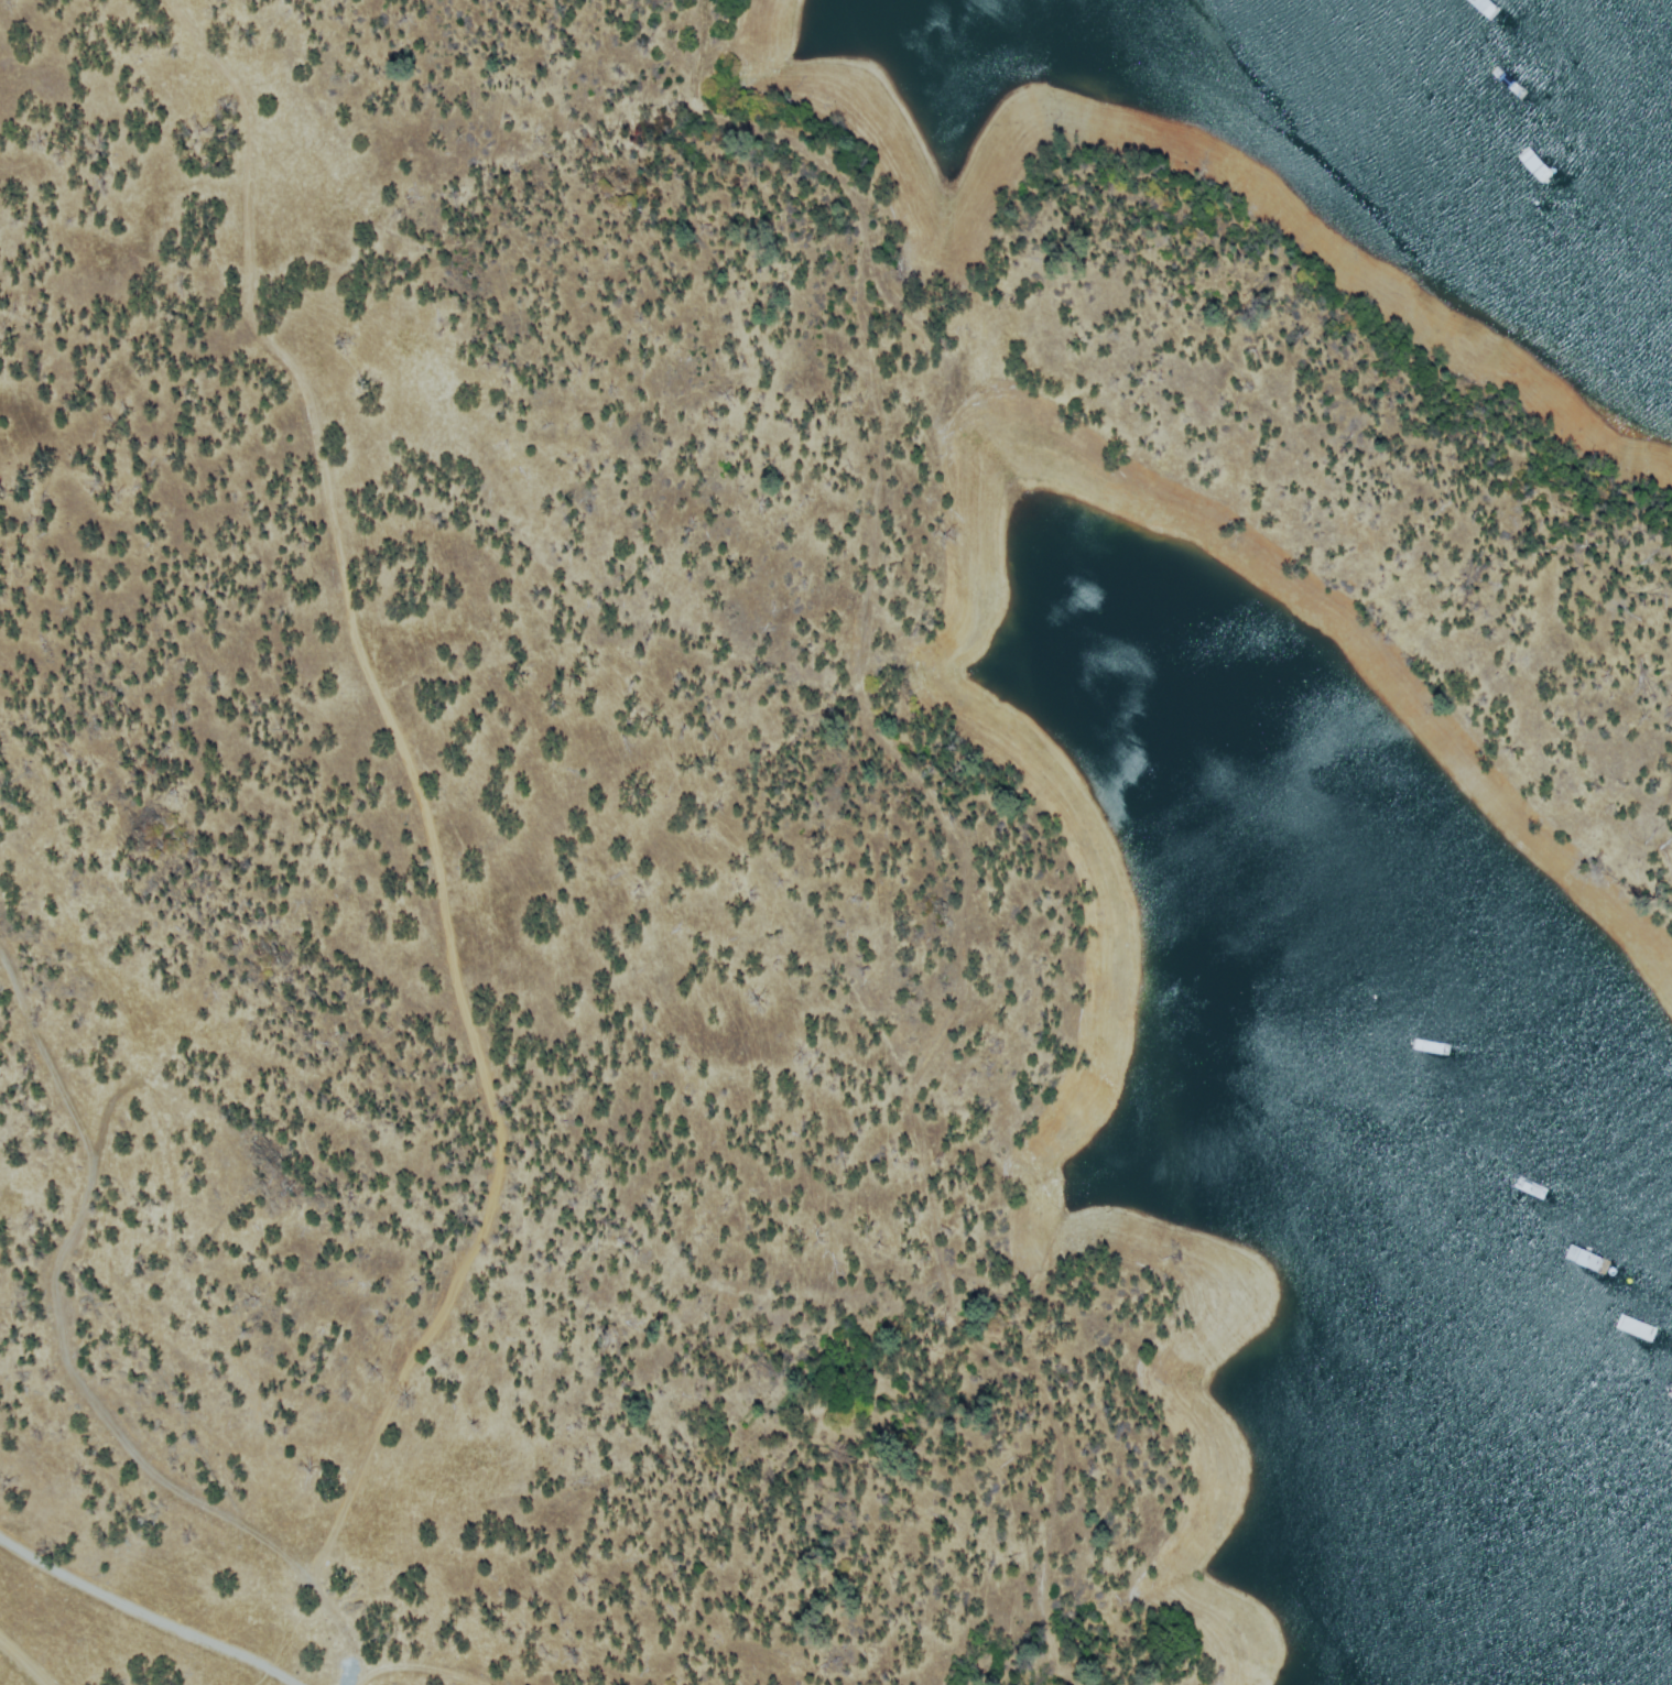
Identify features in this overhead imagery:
building: (1464, 154)
building: (1514, 1253)
building: (1559, 1341)
building: (1664, 1457)
road: (26, 1657)

